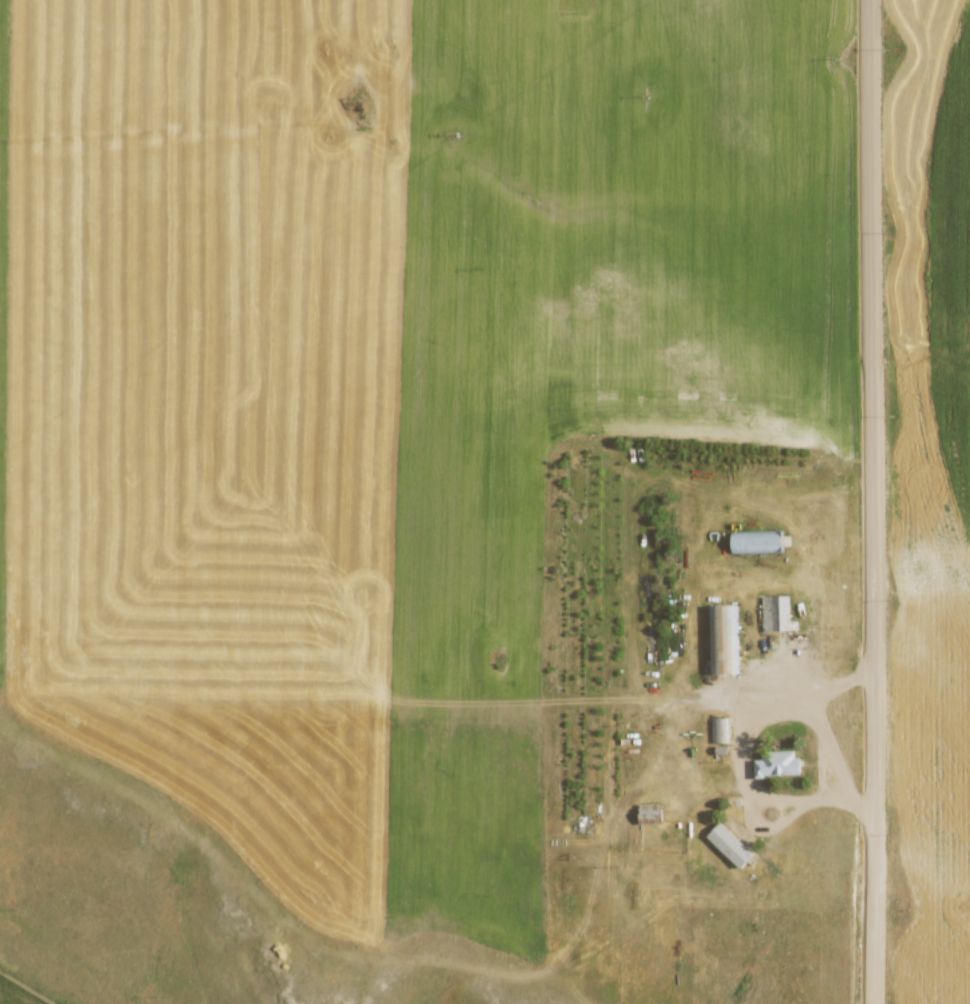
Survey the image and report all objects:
petroleum well: (367, 112)
road: (159, 135)
road: (878, 501)
building: (758, 540)
building: (776, 611)
building: (723, 638)
petroleum well: (503, 660)
road: (371, 706)
building: (720, 730)
road: (745, 753)
building: (778, 763)
building: (651, 812)
building: (731, 844)

